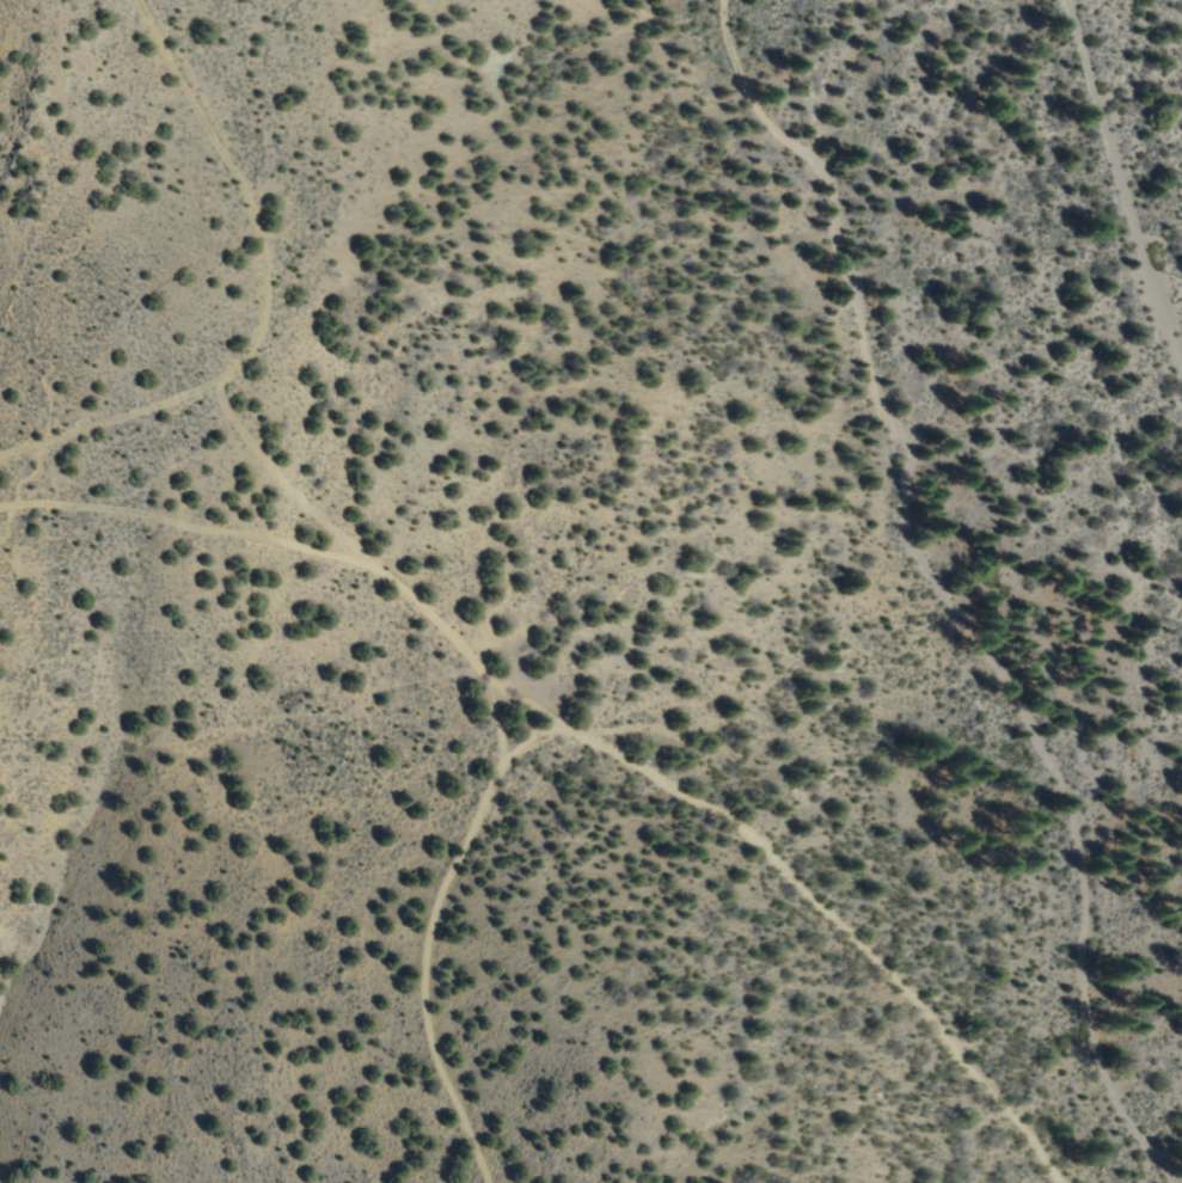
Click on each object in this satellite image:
road: (1120, 192)
road: (256, 292)
road: (941, 593)
road: (482, 676)
road: (515, 697)
road: (807, 900)

